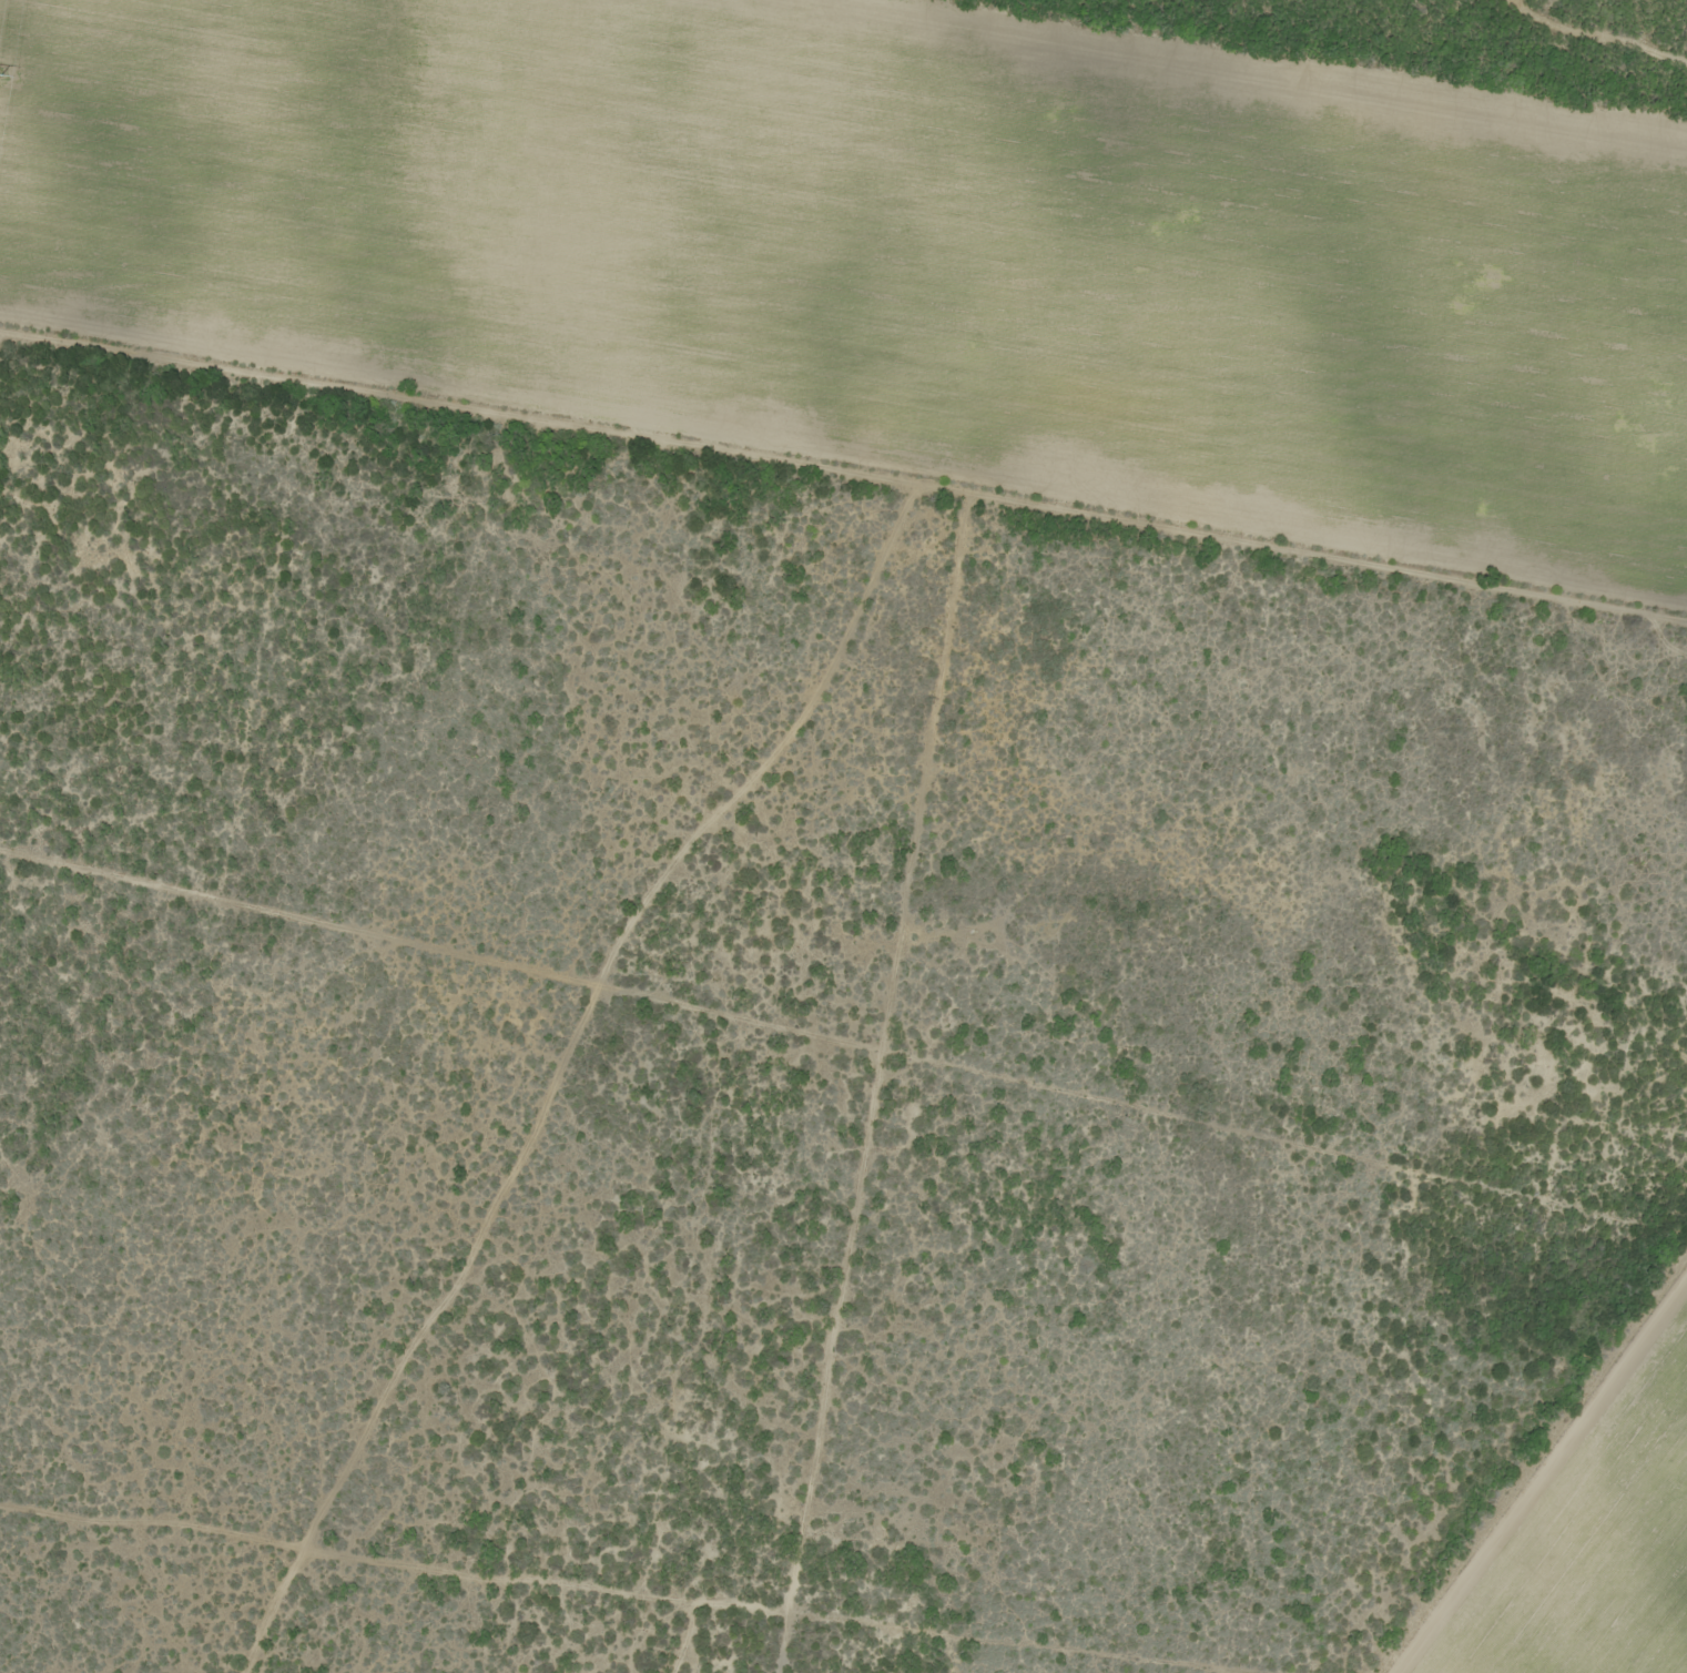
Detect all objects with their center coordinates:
road: (1522, 1446)

